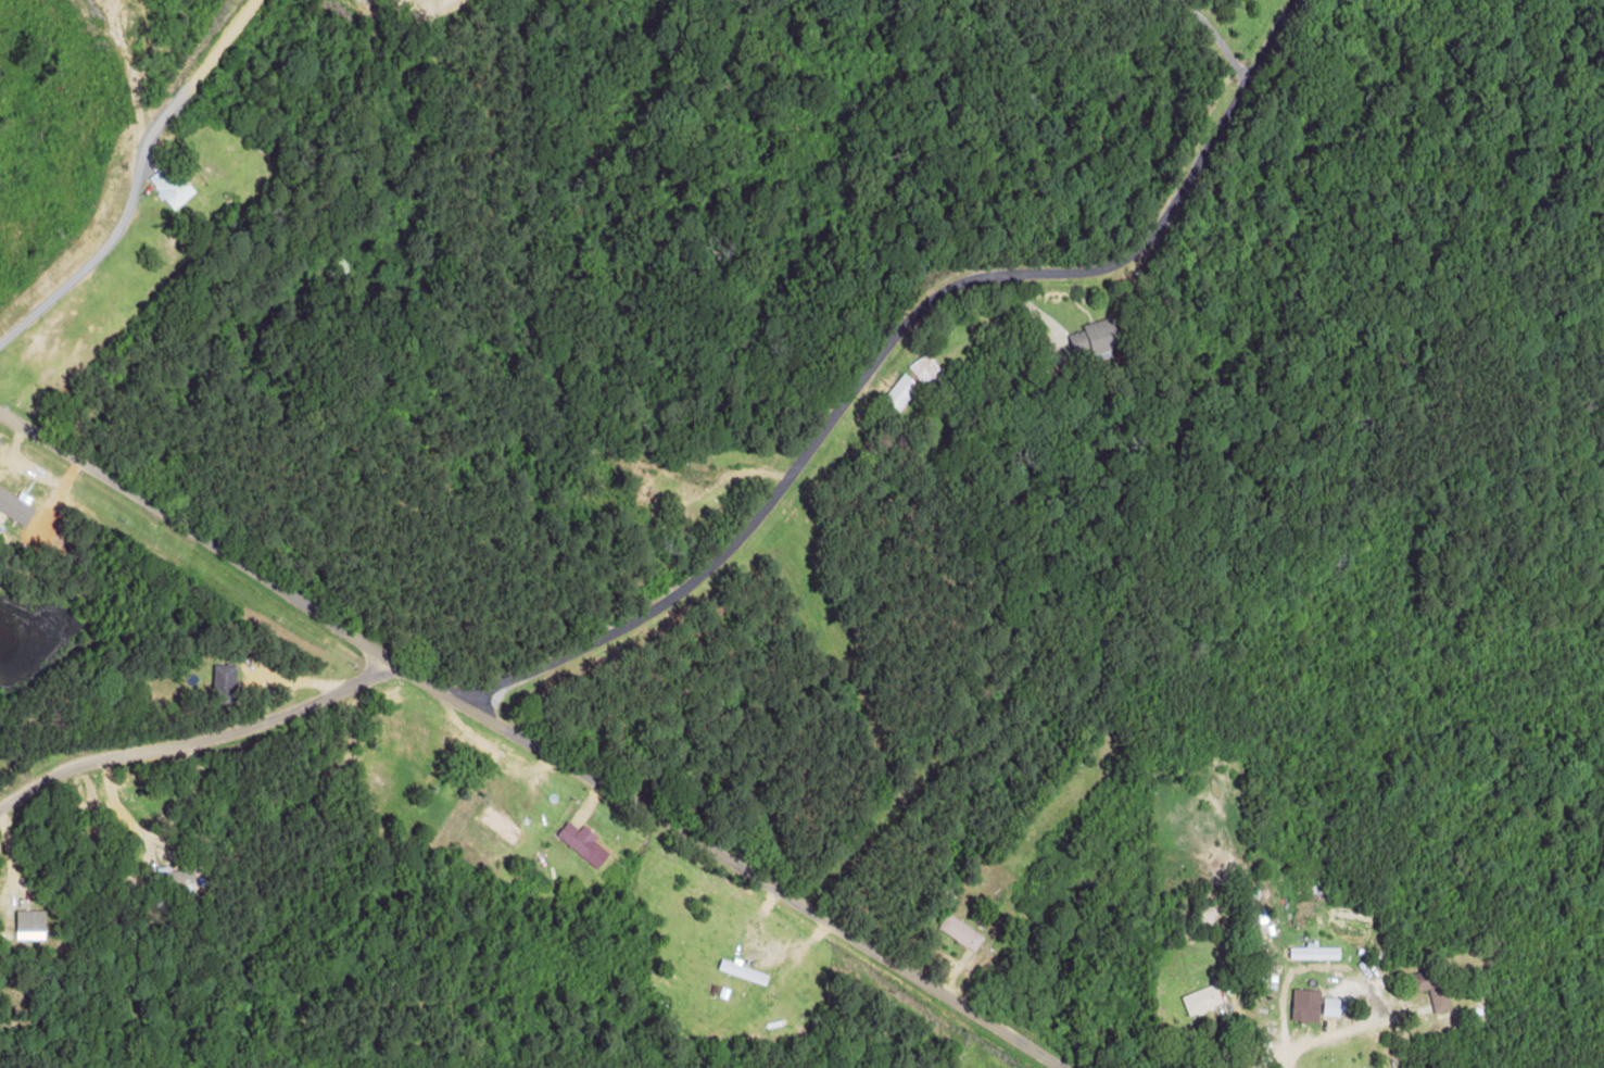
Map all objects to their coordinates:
building: (170, 185)
building: (1091, 331)
building: (925, 368)
road: (917, 389)
building: (902, 390)
building: (16, 505)
road: (1308, 519)
road: (1293, 683)
road: (194, 700)
road: (527, 729)
building: (583, 843)
building: (30, 920)
building: (960, 931)
building: (1314, 952)
building: (1432, 988)
building: (1202, 1000)
building: (1306, 1005)
building: (1331, 1006)

